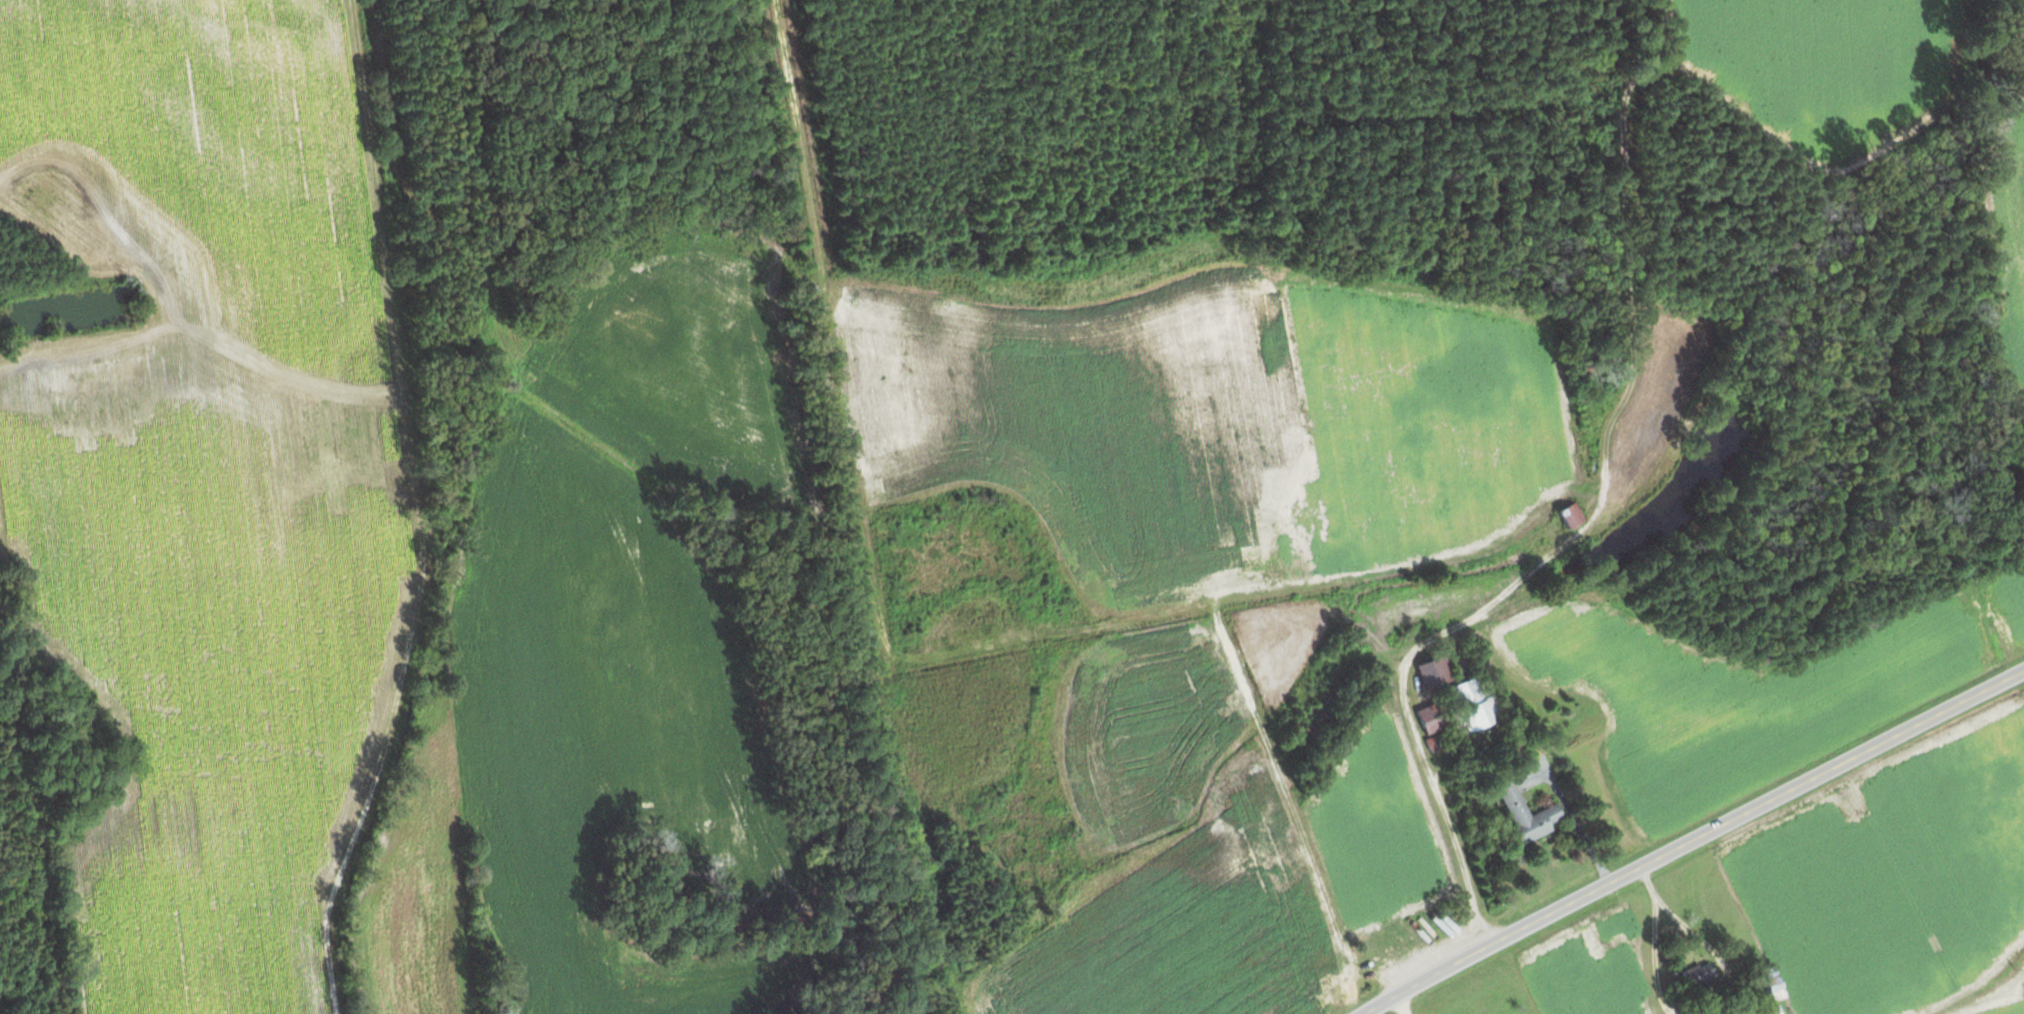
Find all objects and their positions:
building: (1566, 516)
road: (1435, 633)
building: (1433, 672)
building: (1472, 706)
building: (1523, 817)
road: (1578, 819)
road: (1694, 840)
building: (1281, 873)
building: (1696, 979)
building: (1767, 986)

